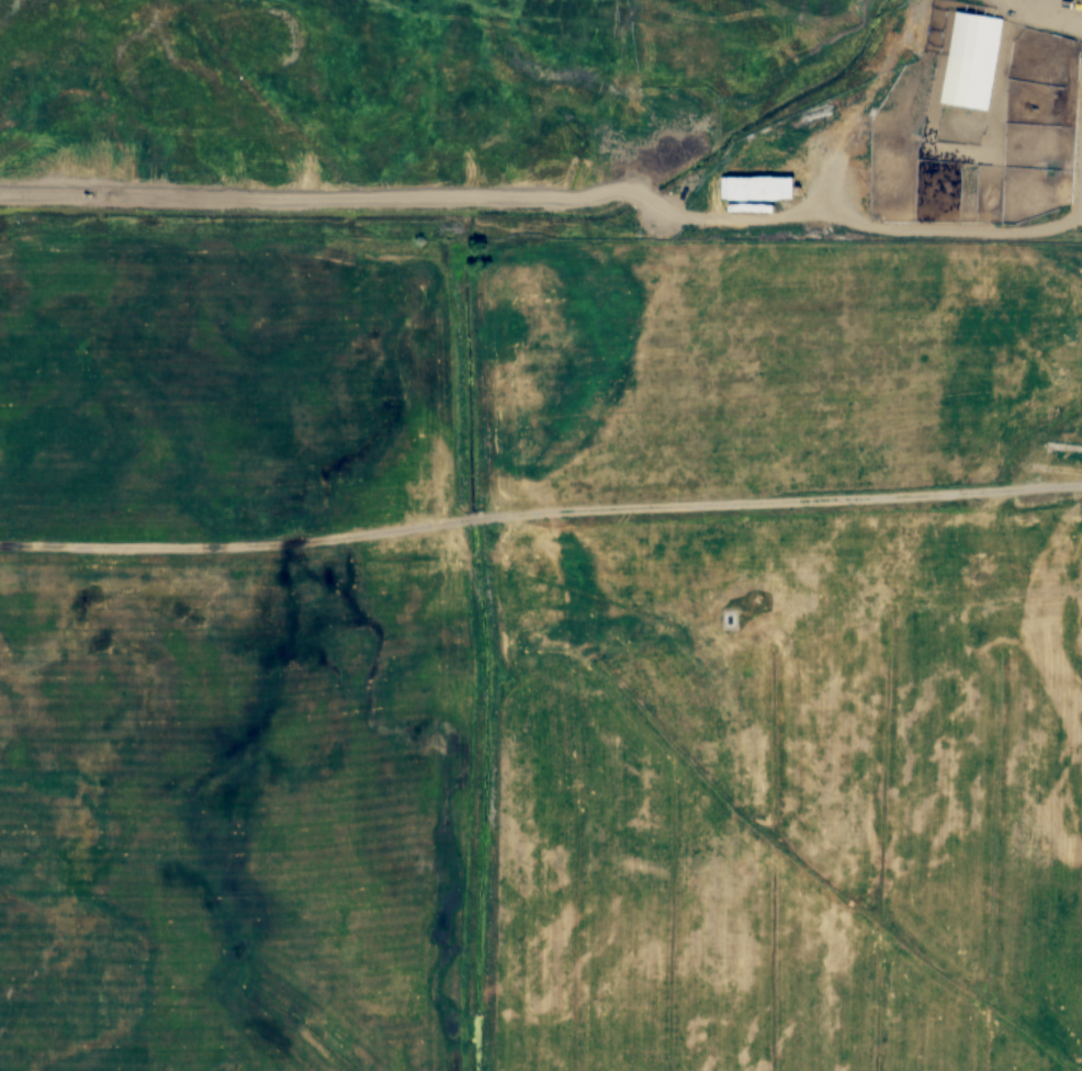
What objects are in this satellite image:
road: (1024, 15)
building: (972, 61)
road: (540, 516)

